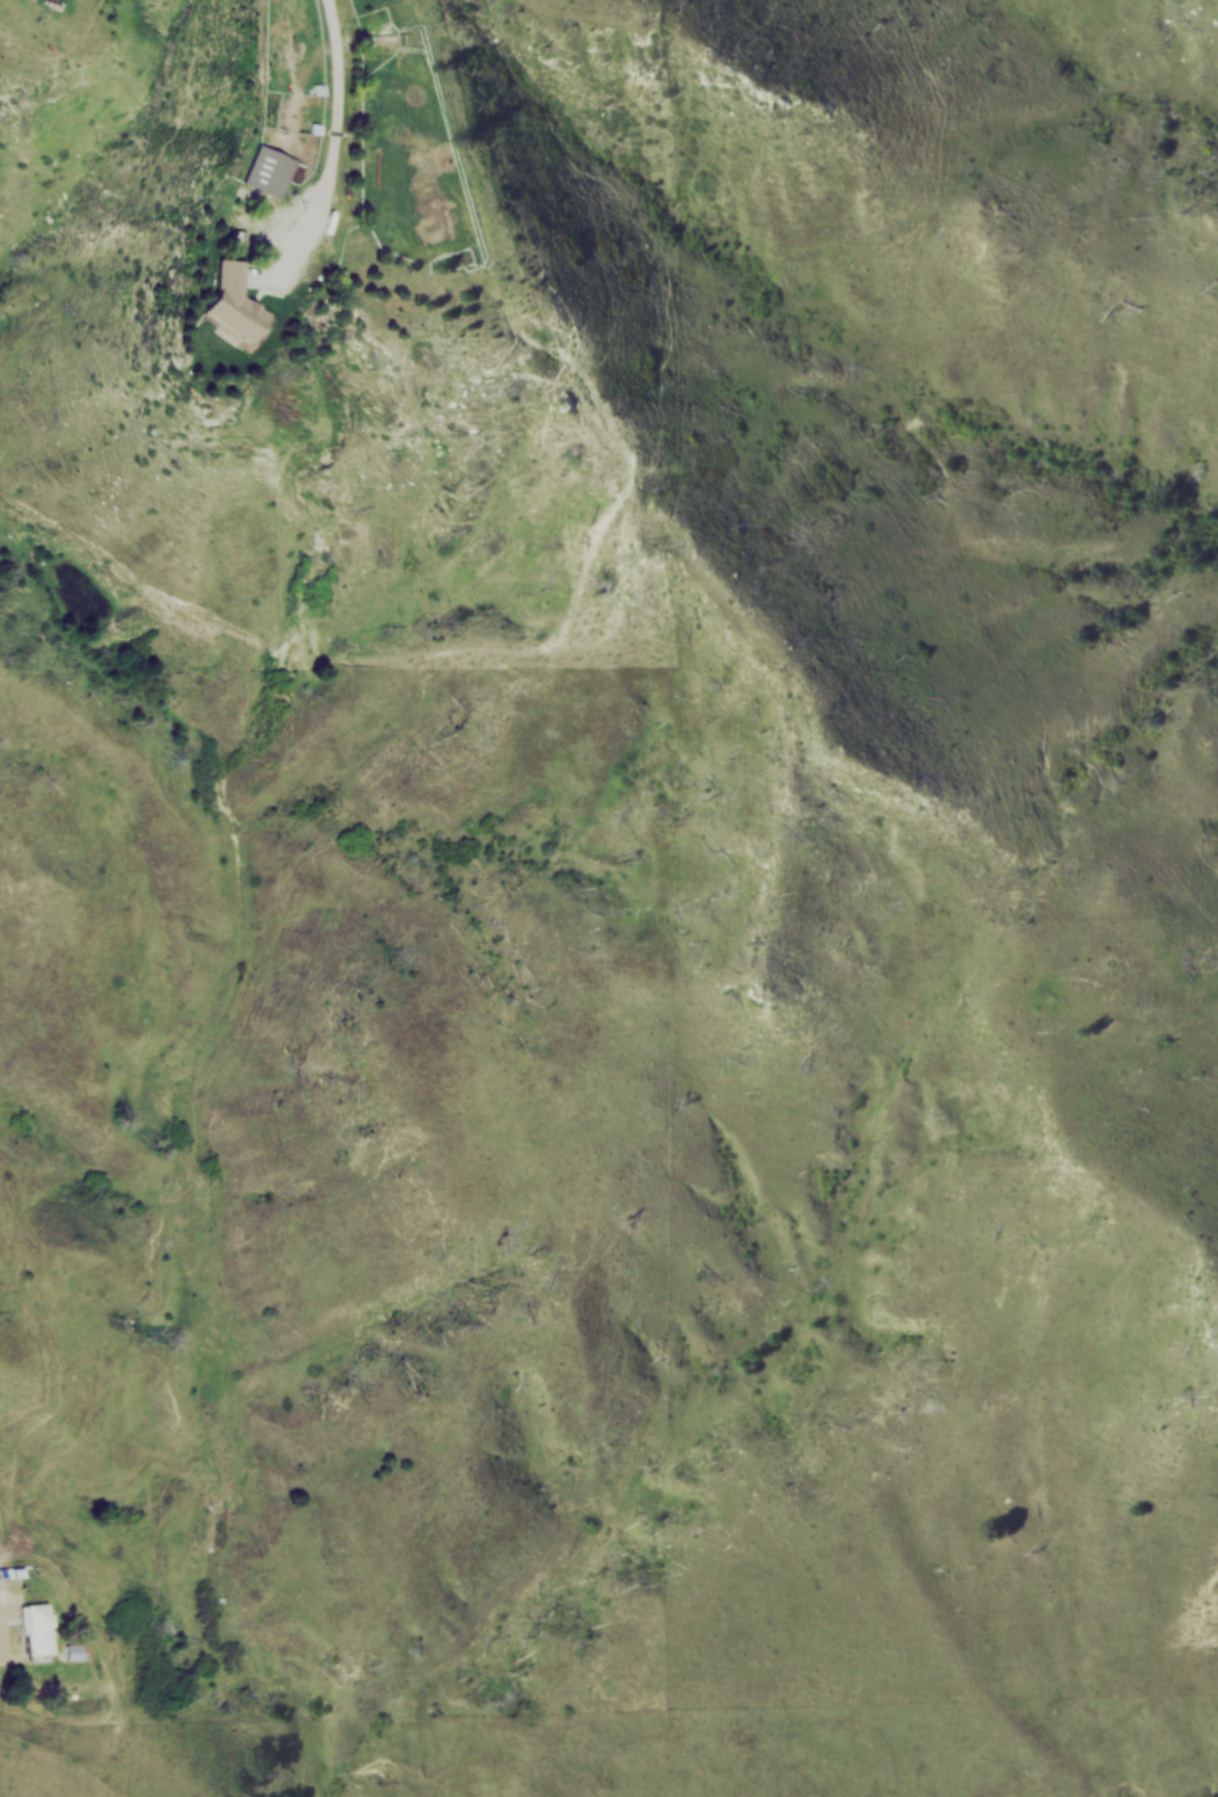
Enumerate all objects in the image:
road: (333, 135)
building: (269, 172)
building: (225, 304)
building: (36, 1631)
building: (70, 1652)

